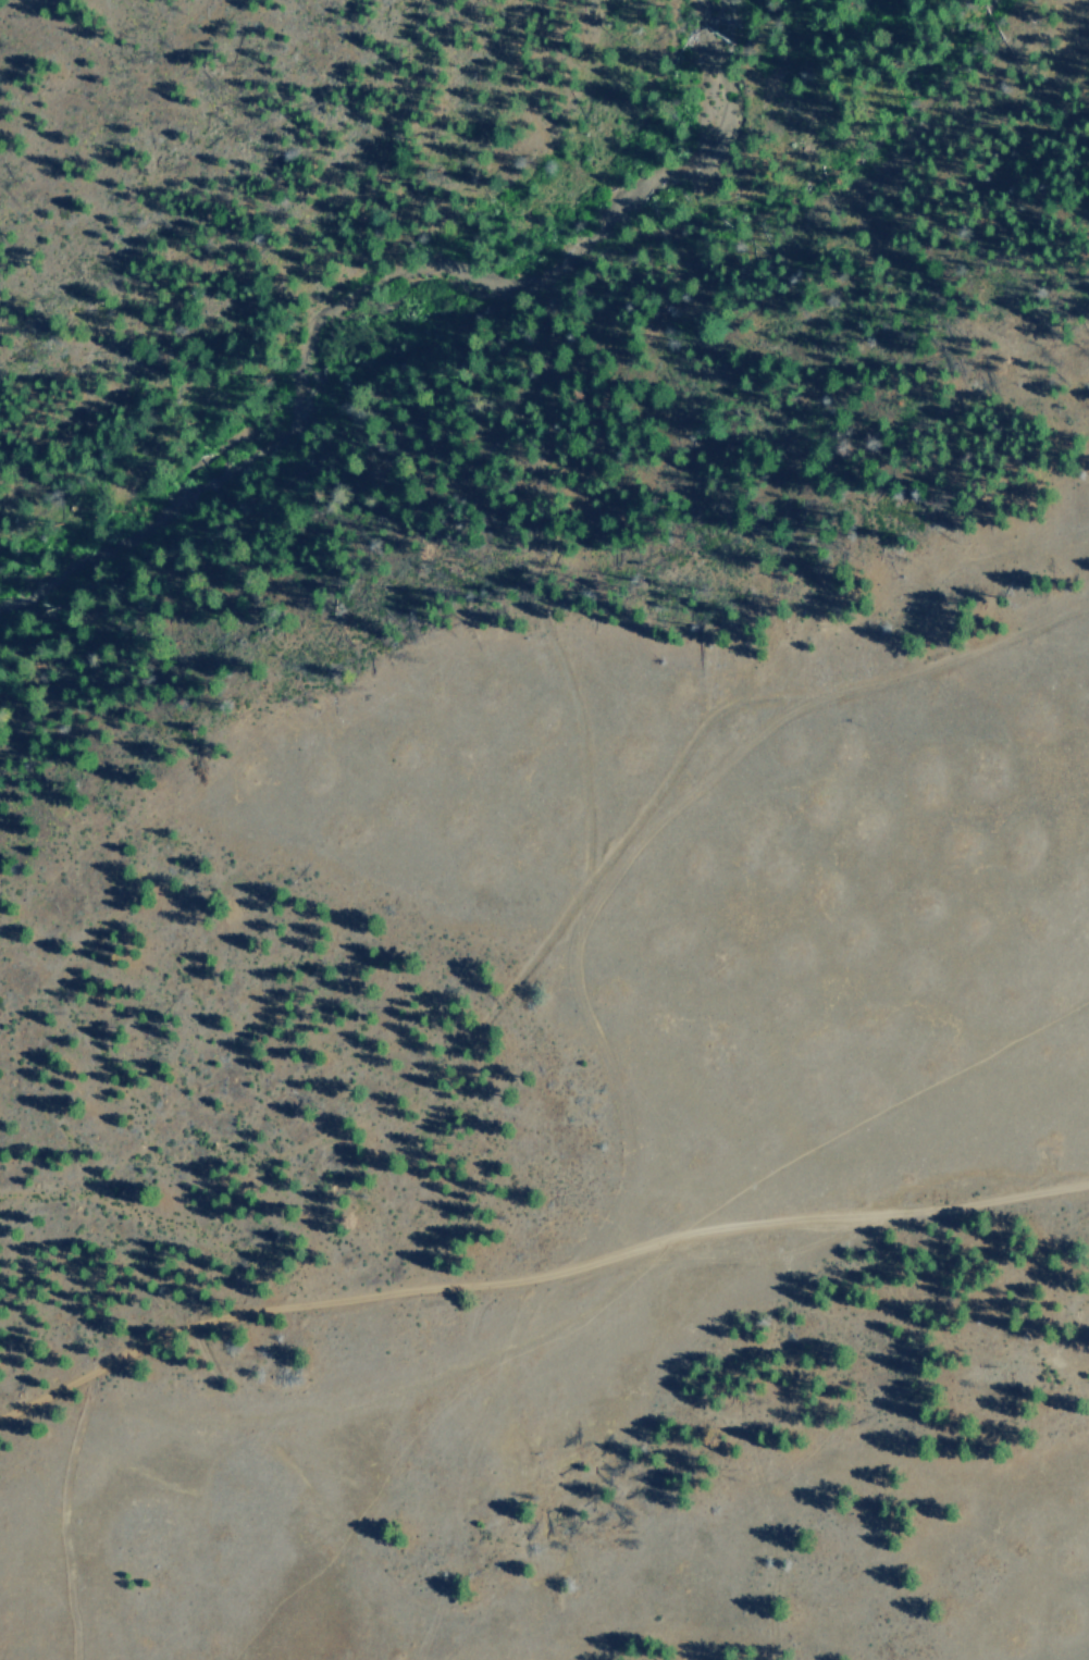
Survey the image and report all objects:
road: (531, 1288)

